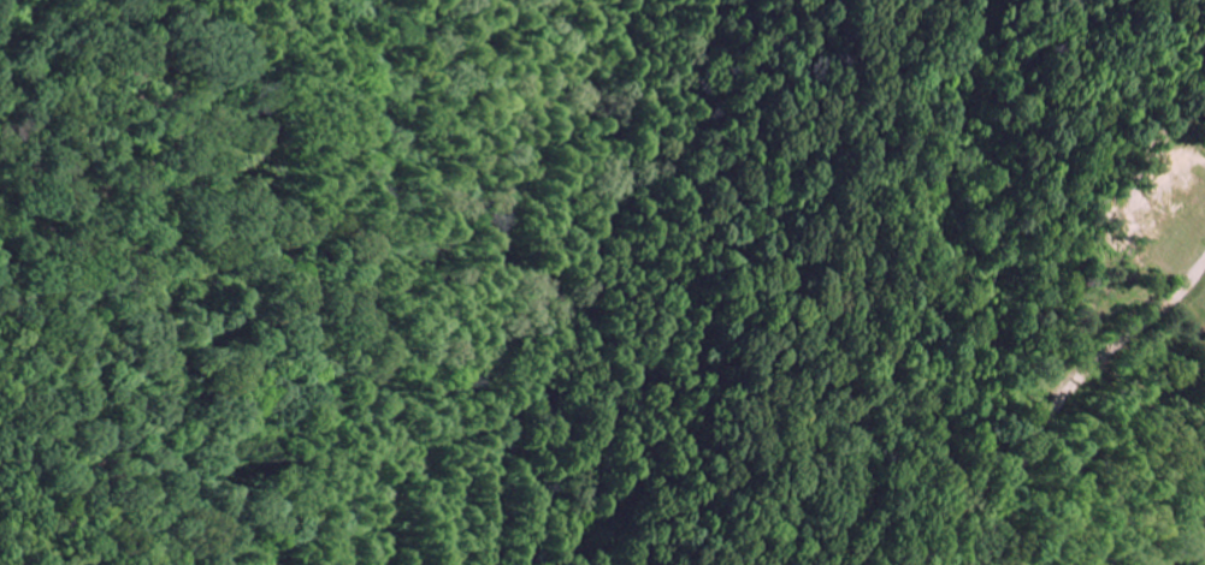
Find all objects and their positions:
road: (1065, 391)

